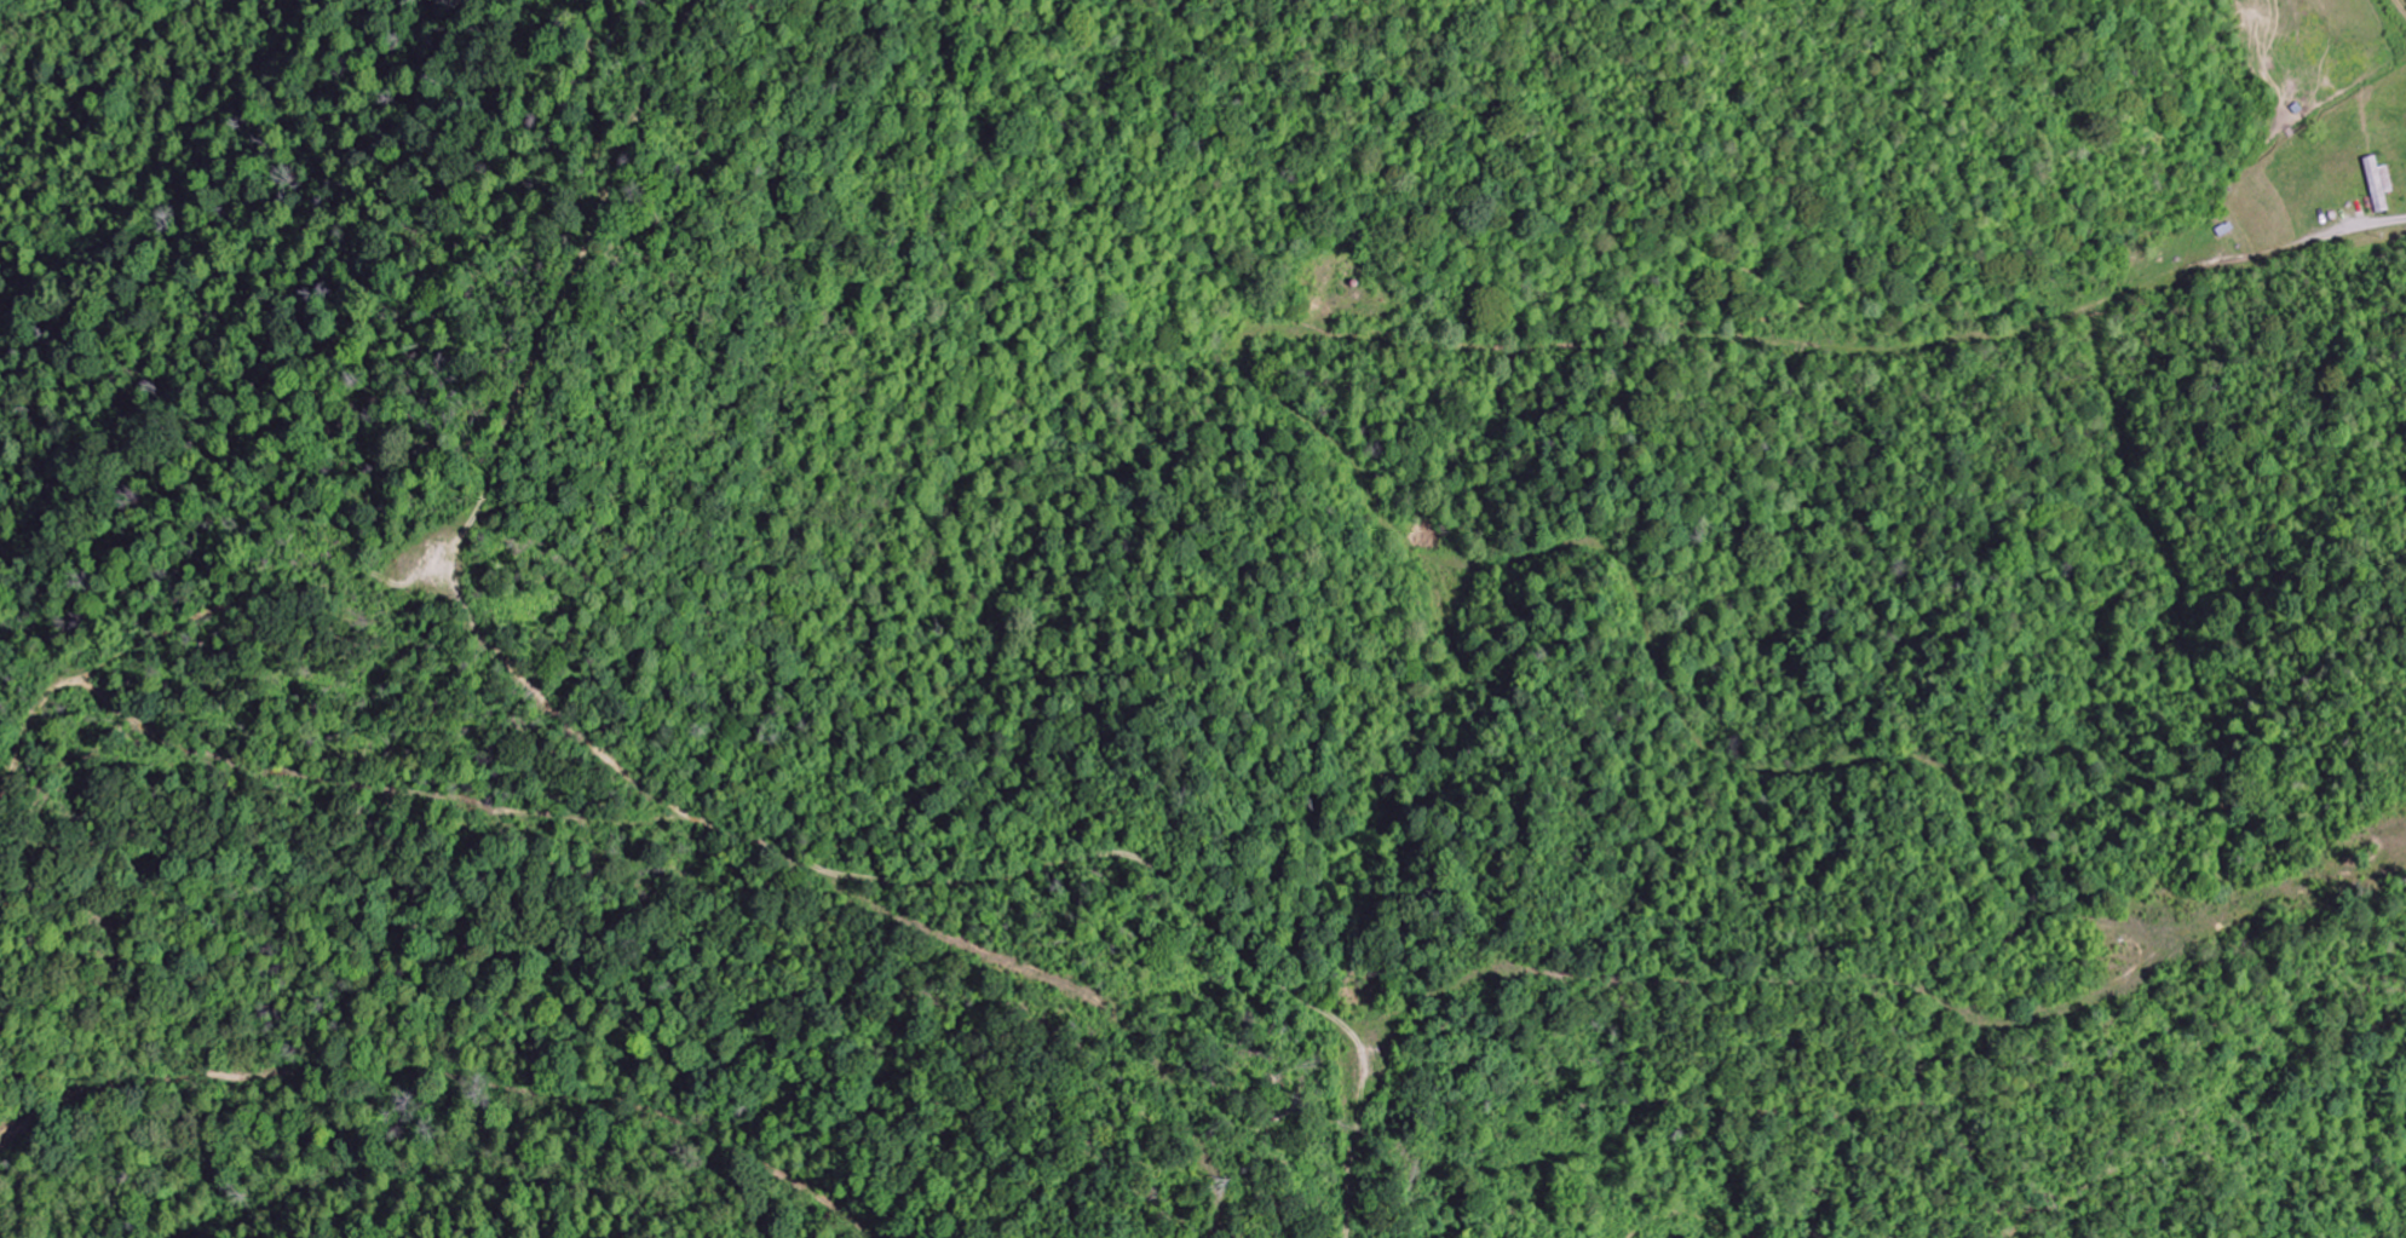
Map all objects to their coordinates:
building: (2379, 183)

